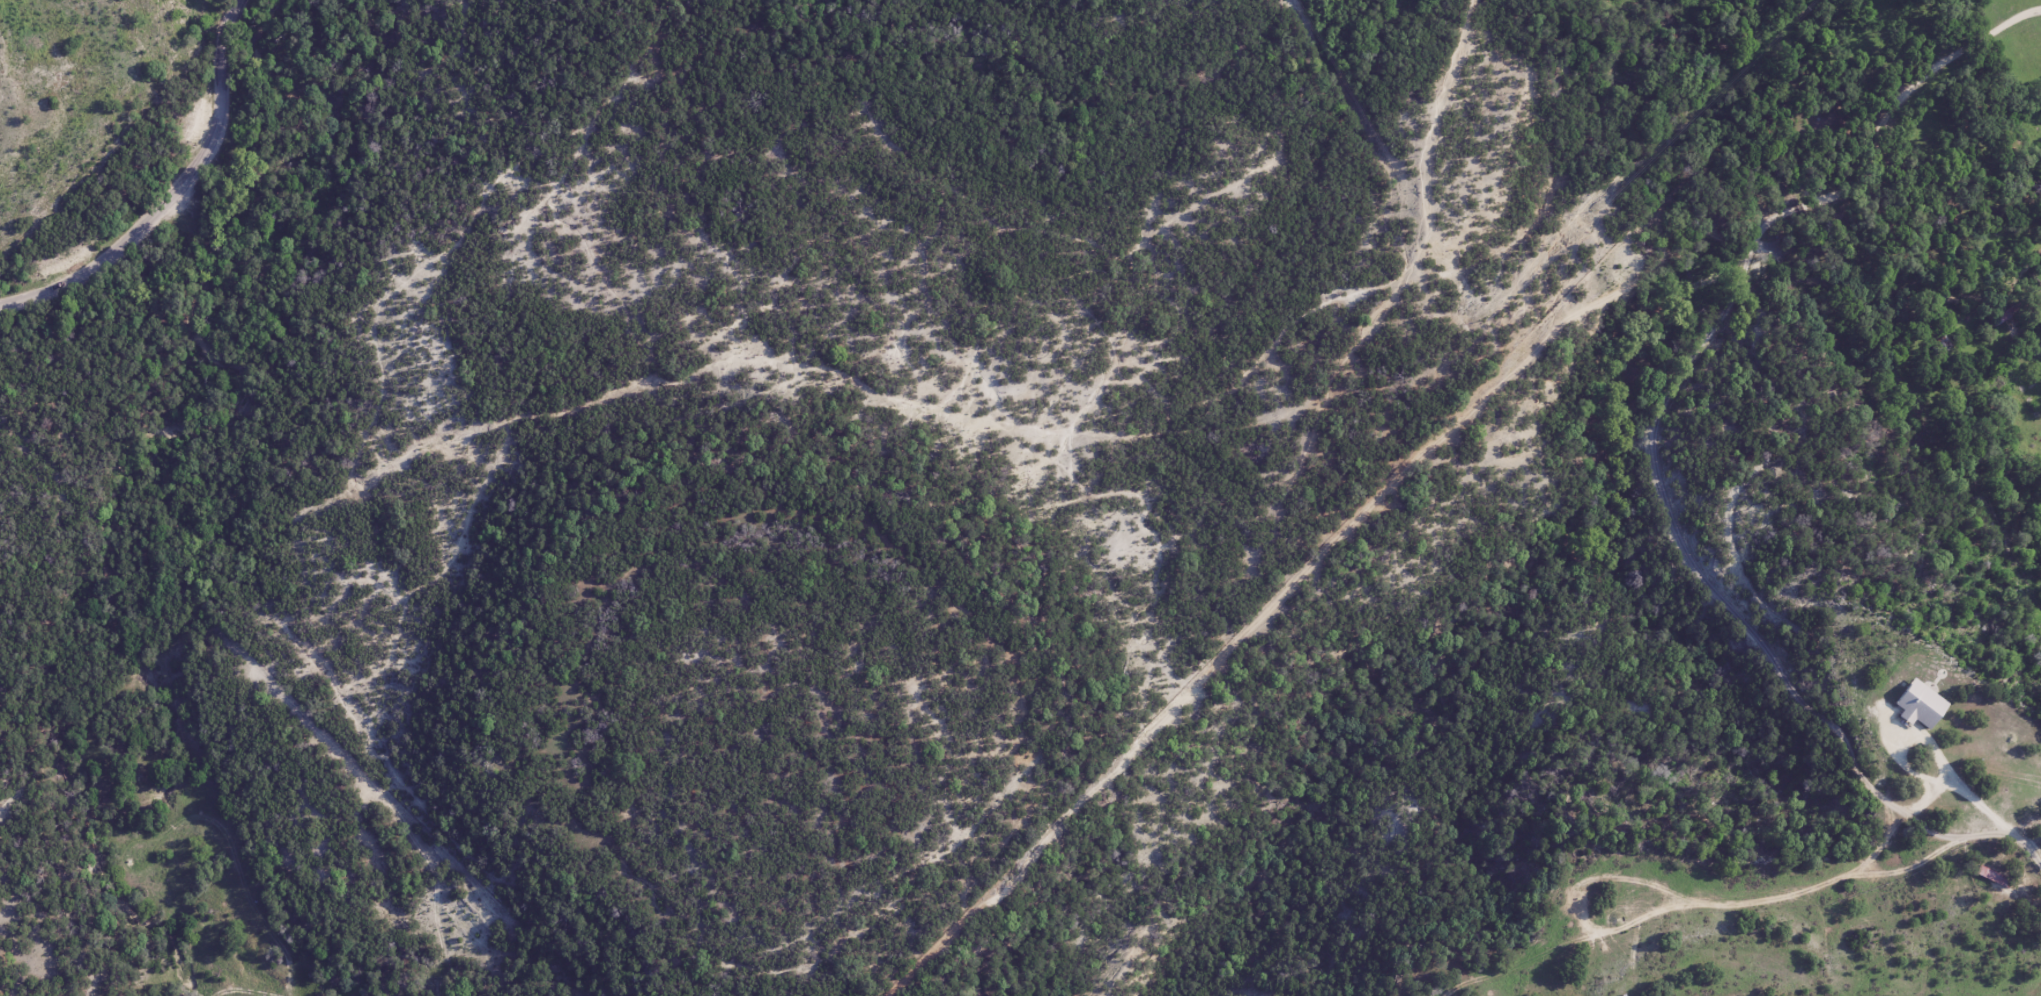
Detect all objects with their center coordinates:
road: (173, 191)
road: (2030, 358)
road: (1664, 435)
building: (1918, 705)
building: (1992, 877)
road: (268, 995)

